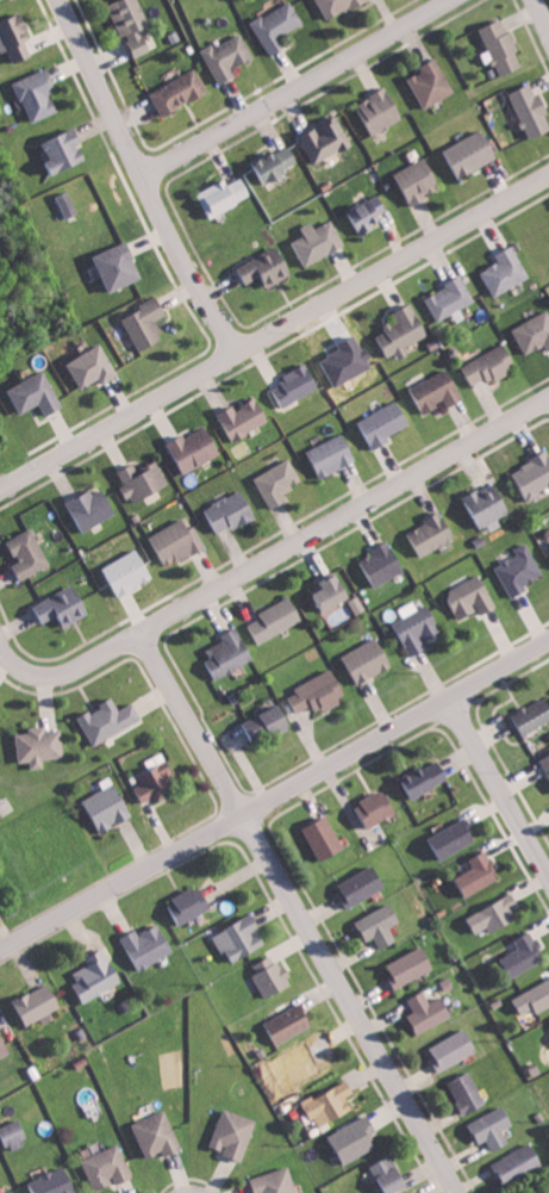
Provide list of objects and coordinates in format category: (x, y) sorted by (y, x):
building: (337, 6)
road: (538, 21)
building: (133, 25)
building: (277, 26)
building: (15, 38)
building: (504, 48)
building: (229, 56)
road: (295, 83)
building: (432, 83)
building: (179, 92)
building: (38, 94)
building: (381, 110)
building: (532, 110)
building: (326, 139)
building: (65, 150)
building: (472, 153)
building: (275, 163)
building: (420, 180)
building: (224, 195)
building: (67, 204)
building: (368, 213)
building: (319, 241)
road: (392, 263)
building: (119, 266)
building: (267, 267)
building: (507, 271)
road: (208, 297)
building: (450, 298)
building: (148, 323)
building: (404, 331)
building: (534, 333)
building: (489, 366)
building: (93, 367)
building: (297, 386)
building: (438, 391)
building: (37, 393)
building: (247, 417)
building: (386, 423)
building: (196, 448)
building: (332, 455)
building: (534, 476)
building: (143, 480)
building: (280, 481)
building: (487, 505)
building: (91, 508)
building: (231, 511)
road: (343, 515)
building: (432, 535)
building: (179, 541)
building: (29, 554)
building: (383, 563)
building: (519, 570)
building: (129, 572)
building: (331, 591)
building: (473, 597)
building: (63, 607)
building: (276, 619)
building: (418, 626)
building: (229, 653)
building: (369, 659)
road: (60, 664)
building: (319, 692)
building: (1, 715)
building: (534, 715)
building: (110, 720)
building: (268, 723)
road: (191, 725)
road: (397, 729)
building: (40, 746)
building: (547, 762)
building: (425, 778)
building: (156, 779)
road: (499, 787)
building: (108, 806)
building: (379, 808)
building: (325, 838)
building: (453, 838)
building: (480, 872)
building: (363, 883)
road: (123, 884)
building: (189, 903)
building: (497, 913)
building: (380, 924)
building: (241, 937)
building: (149, 944)
building: (525, 952)
building: (412, 965)
building: (96, 975)
building: (272, 975)
building: (535, 998)
building: (38, 1002)
road: (351, 1005)
building: (429, 1011)
building: (288, 1023)
building: (4, 1043)
building: (454, 1048)
building: (306, 1061)
building: (468, 1092)
building: (331, 1102)
building: (493, 1126)
building: (235, 1132)
building: (14, 1133)
building: (158, 1133)
building: (355, 1138)
building: (519, 1162)
building: (108, 1167)
building: (391, 1173)
building: (277, 1181)
building: (55, 1182)
building: (11, 1191)

